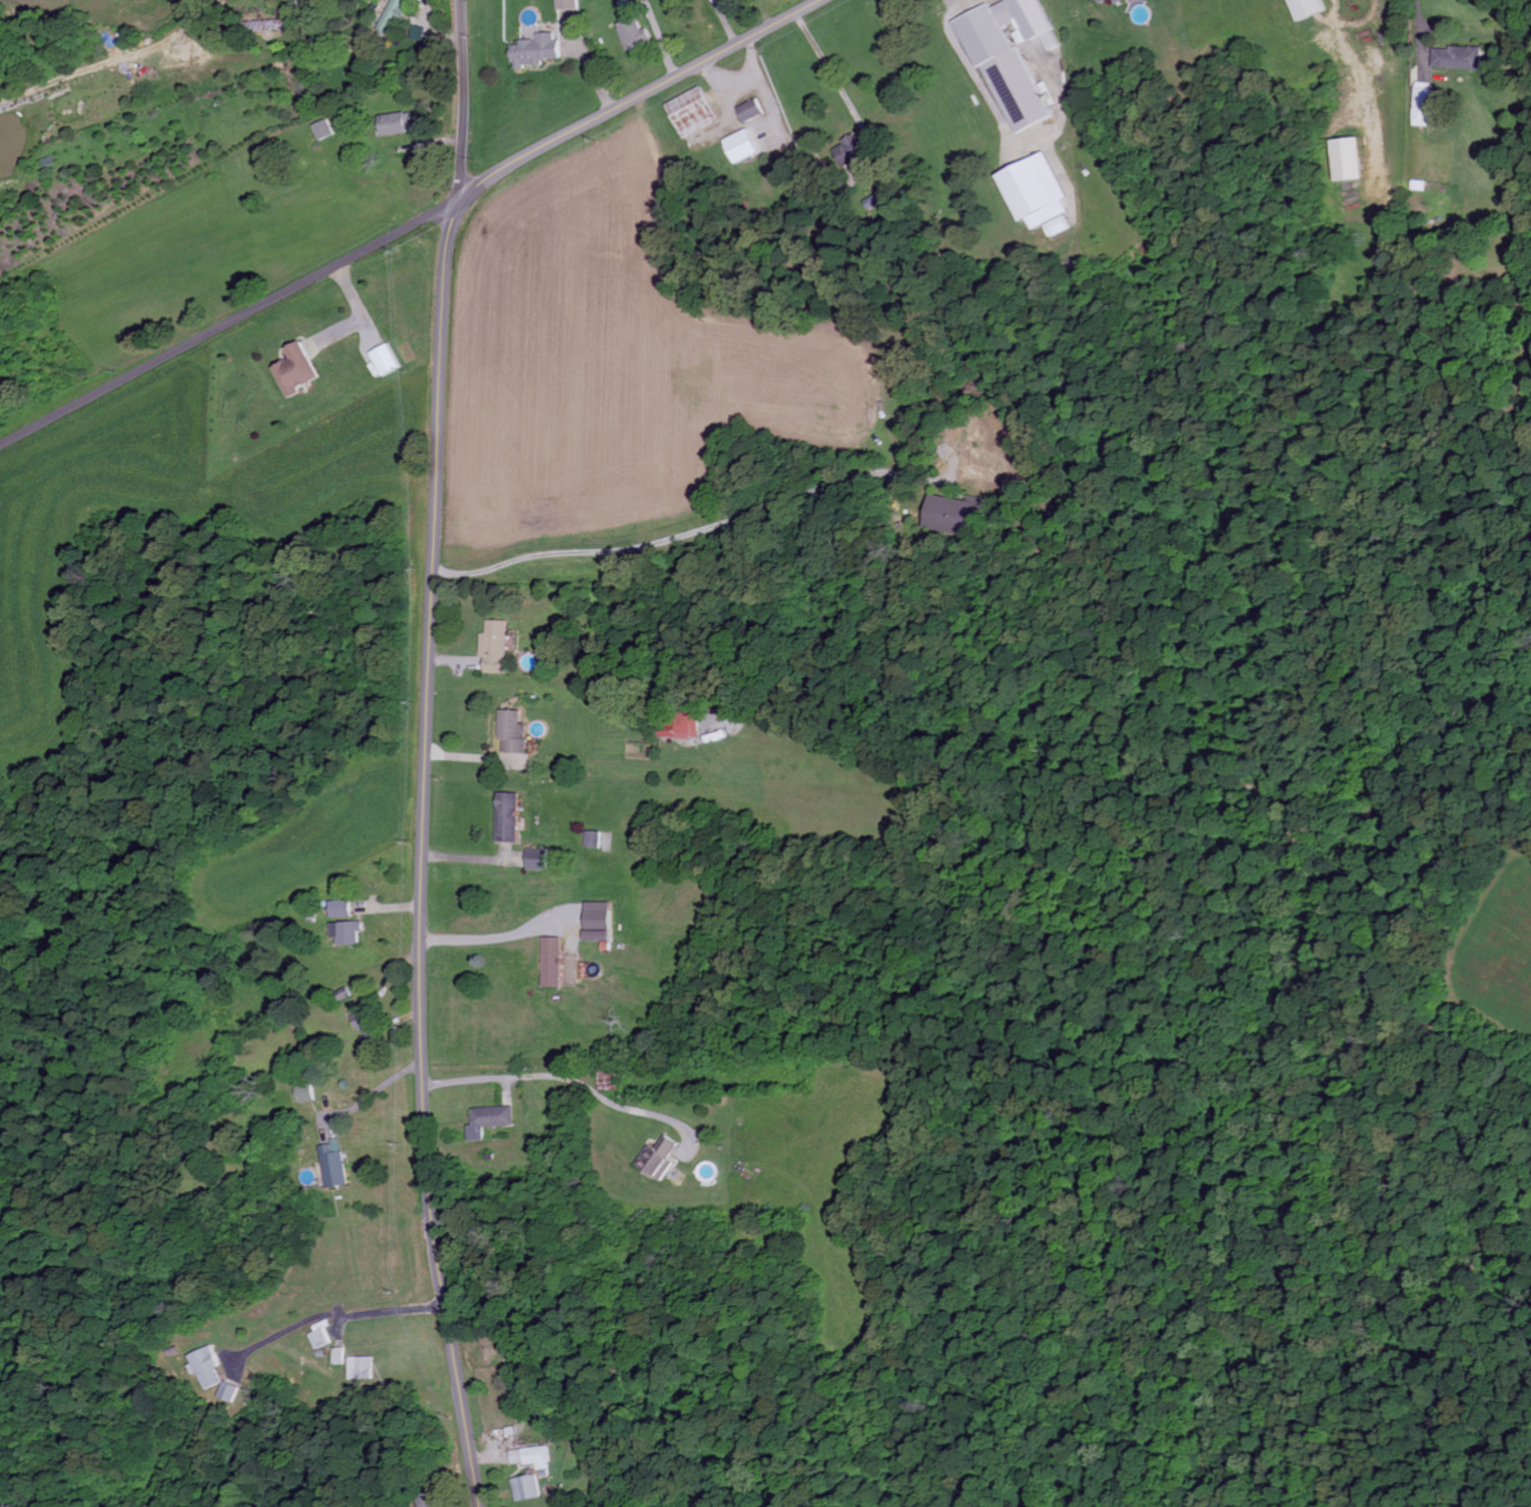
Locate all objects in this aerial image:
building: (1100, 2)
building: (1118, 2)
building: (1305, 9)
building: (566, 15)
building: (632, 35)
building: (534, 52)
building: (1007, 57)
building: (1457, 59)
road: (463, 98)
building: (1421, 107)
building: (748, 112)
building: (690, 114)
building: (394, 125)
building: (322, 131)
building: (739, 148)
building: (849, 153)
building: (1345, 161)
building: (1033, 193)
building: (1056, 228)
road: (229, 320)
building: (384, 361)
building: (293, 369)
building: (950, 517)
building: (494, 647)
road: (429, 648)
building: (681, 727)
building: (511, 733)
building: (505, 818)
building: (591, 840)
building: (533, 861)
building: (338, 910)
building: (595, 923)
building: (344, 933)
building: (550, 963)
building: (341, 997)
building: (360, 1022)
building: (303, 1094)
building: (487, 1121)
building: (655, 1160)
building: (332, 1165)
building: (319, 1337)
building: (337, 1357)
building: (204, 1369)
building: (359, 1369)
building: (227, 1393)
building: (532, 1459)
building: (526, 1489)
building: (425, 1501)

